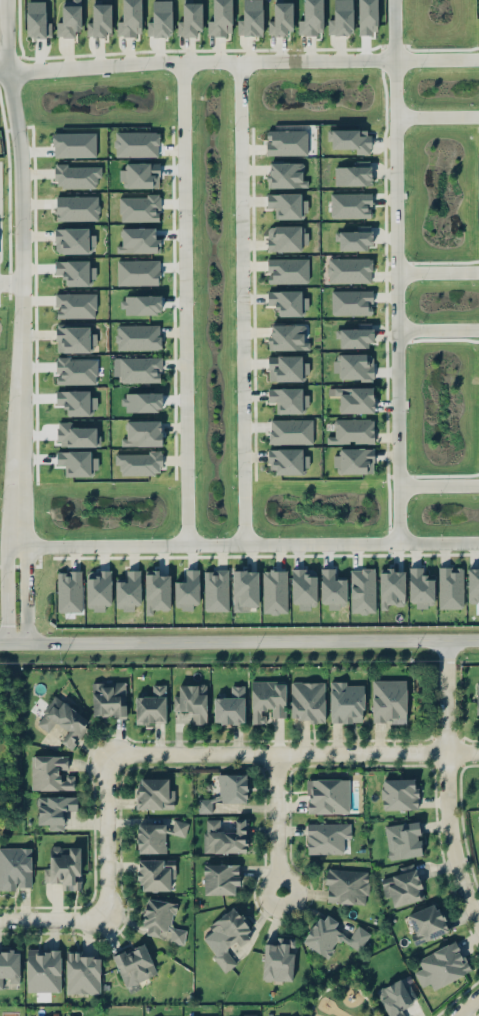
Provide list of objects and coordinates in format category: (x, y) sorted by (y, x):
building: (312, 17)
building: (130, 18)
building: (221, 18)
building: (251, 18)
building: (282, 18)
building: (341, 18)
building: (37, 19)
building: (69, 19)
building: (161, 19)
building: (100, 20)
building: (190, 20)
road: (239, 61)
road: (437, 115)
building: (350, 139)
building: (287, 142)
building: (137, 143)
building: (74, 144)
building: (286, 174)
building: (354, 174)
building: (140, 175)
building: (77, 176)
building: (286, 204)
building: (351, 205)
building: (77, 207)
building: (139, 207)
building: (285, 238)
building: (354, 238)
building: (74, 240)
building: (139, 240)
building: (288, 270)
building: (350, 270)
building: (76, 271)
road: (396, 271)
road: (438, 271)
road: (19, 272)
building: (138, 272)
road: (242, 302)
building: (288, 302)
building: (352, 302)
road: (184, 303)
building: (75, 304)
road: (438, 328)
building: (356, 335)
building: (138, 336)
building: (288, 337)
building: (75, 338)
building: (355, 366)
building: (137, 368)
building: (287, 368)
building: (76, 370)
building: (288, 399)
building: (354, 399)
building: (291, 430)
building: (352, 431)
building: (142, 432)
building: (75, 435)
building: (287, 460)
building: (354, 460)
building: (139, 462)
road: (439, 484)
road: (247, 543)
building: (473, 585)
building: (392, 587)
building: (420, 587)
building: (450, 587)
building: (332, 588)
building: (99, 589)
building: (216, 589)
building: (245, 589)
building: (303, 589)
road: (26, 590)
building: (128, 590)
building: (187, 590)
building: (275, 590)
building: (362, 590)
road: (7, 591)
building: (69, 591)
building: (157, 591)
road: (239, 641)
building: (108, 698)
building: (266, 698)
building: (477, 699)
building: (191, 700)
building: (389, 700)
building: (307, 701)
building: (346, 701)
building: (151, 706)
building: (229, 706)
building: (62, 719)
road: (294, 754)
building: (49, 772)
road: (443, 780)
building: (227, 790)
building: (153, 793)
building: (399, 793)
building: (327, 794)
building: (54, 811)
building: (179, 826)
road: (272, 826)
road: (108, 835)
building: (225, 836)
building: (326, 836)
building: (151, 837)
building: (403, 839)
building: (64, 866)
building: (15, 868)
building: (155, 874)
building: (221, 878)
building: (401, 885)
building: (346, 886)
road: (53, 916)
building: (162, 919)
building: (426, 922)
building: (229, 935)
building: (332, 935)
building: (278, 959)
building: (9, 962)
building: (441, 964)
building: (135, 965)
building: (43, 969)
building: (82, 971)
road: (342, 984)
building: (396, 996)
road: (457, 997)
road: (467, 1007)
building: (48, 1015)
building: (192, 1015)
building: (245, 1015)

